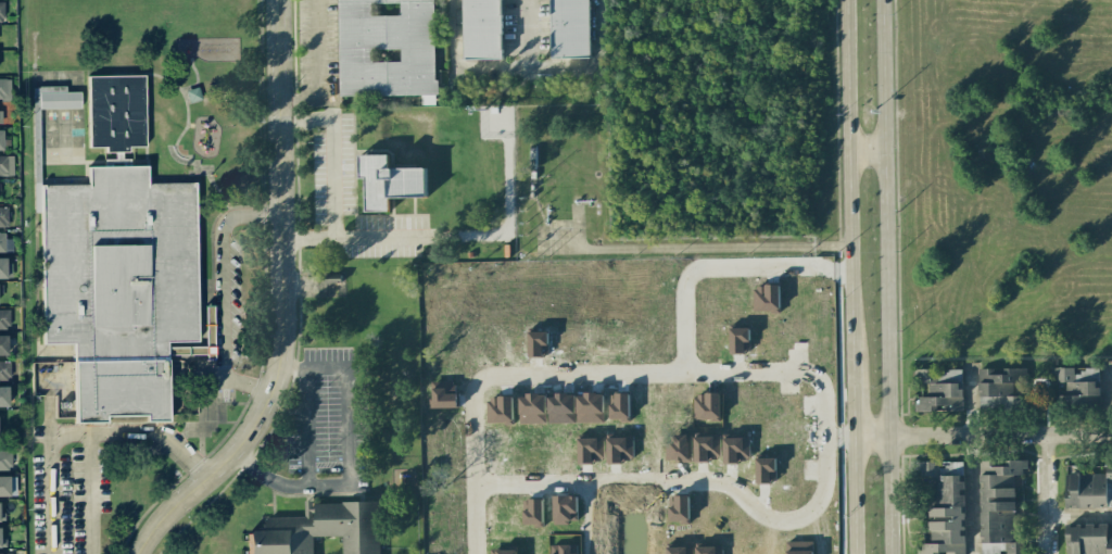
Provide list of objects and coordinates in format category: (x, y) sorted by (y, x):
building: (1, 11)
building: (570, 28)
building: (482, 29)
road: (455, 33)
road: (527, 33)
road: (597, 33)
building: (387, 47)
road: (527, 65)
road: (317, 66)
building: (4, 88)
building: (52, 99)
building: (0, 117)
building: (1, 140)
building: (5, 165)
crop: (1008, 177)
road: (332, 179)
road: (847, 179)
building: (388, 181)
building: (3, 216)
road: (465, 237)
building: (5, 242)
building: (117, 262)
building: (1, 268)
road: (883, 277)
building: (329, 285)
road: (224, 292)
building: (766, 297)
road: (282, 302)
building: (3, 319)
building: (740, 340)
building: (2, 344)
road: (294, 366)
building: (4, 370)
building: (1077, 386)
building: (1002, 388)
building: (939, 390)
building: (3, 396)
road: (852, 398)
building: (619, 406)
building: (707, 406)
building: (590, 407)
building: (532, 408)
building: (500, 410)
road: (161, 429)
road: (998, 436)
road: (836, 437)
road: (869, 437)
road: (350, 439)
building: (706, 448)
building: (620, 449)
building: (678, 449)
building: (736, 449)
building: (591, 450)
building: (4, 461)
building: (950, 468)
building: (766, 469)
road: (53, 474)
road: (267, 477)
building: (3, 486)
building: (1085, 490)
building: (1109, 490)
road: (94, 493)
road: (1044, 493)
road: (854, 495)
road: (968, 495)
road: (748, 504)
building: (999, 506)
building: (565, 508)
building: (679, 508)
building: (533, 512)
building: (943, 513)
road: (1078, 514)
road: (472, 518)
road: (590, 518)
building: (319, 529)
building: (1088, 539)
building: (2, 542)
building: (799, 546)
building: (564, 550)
building: (680, 550)
building: (708, 550)
building: (503, 551)
building: (3, 553)

